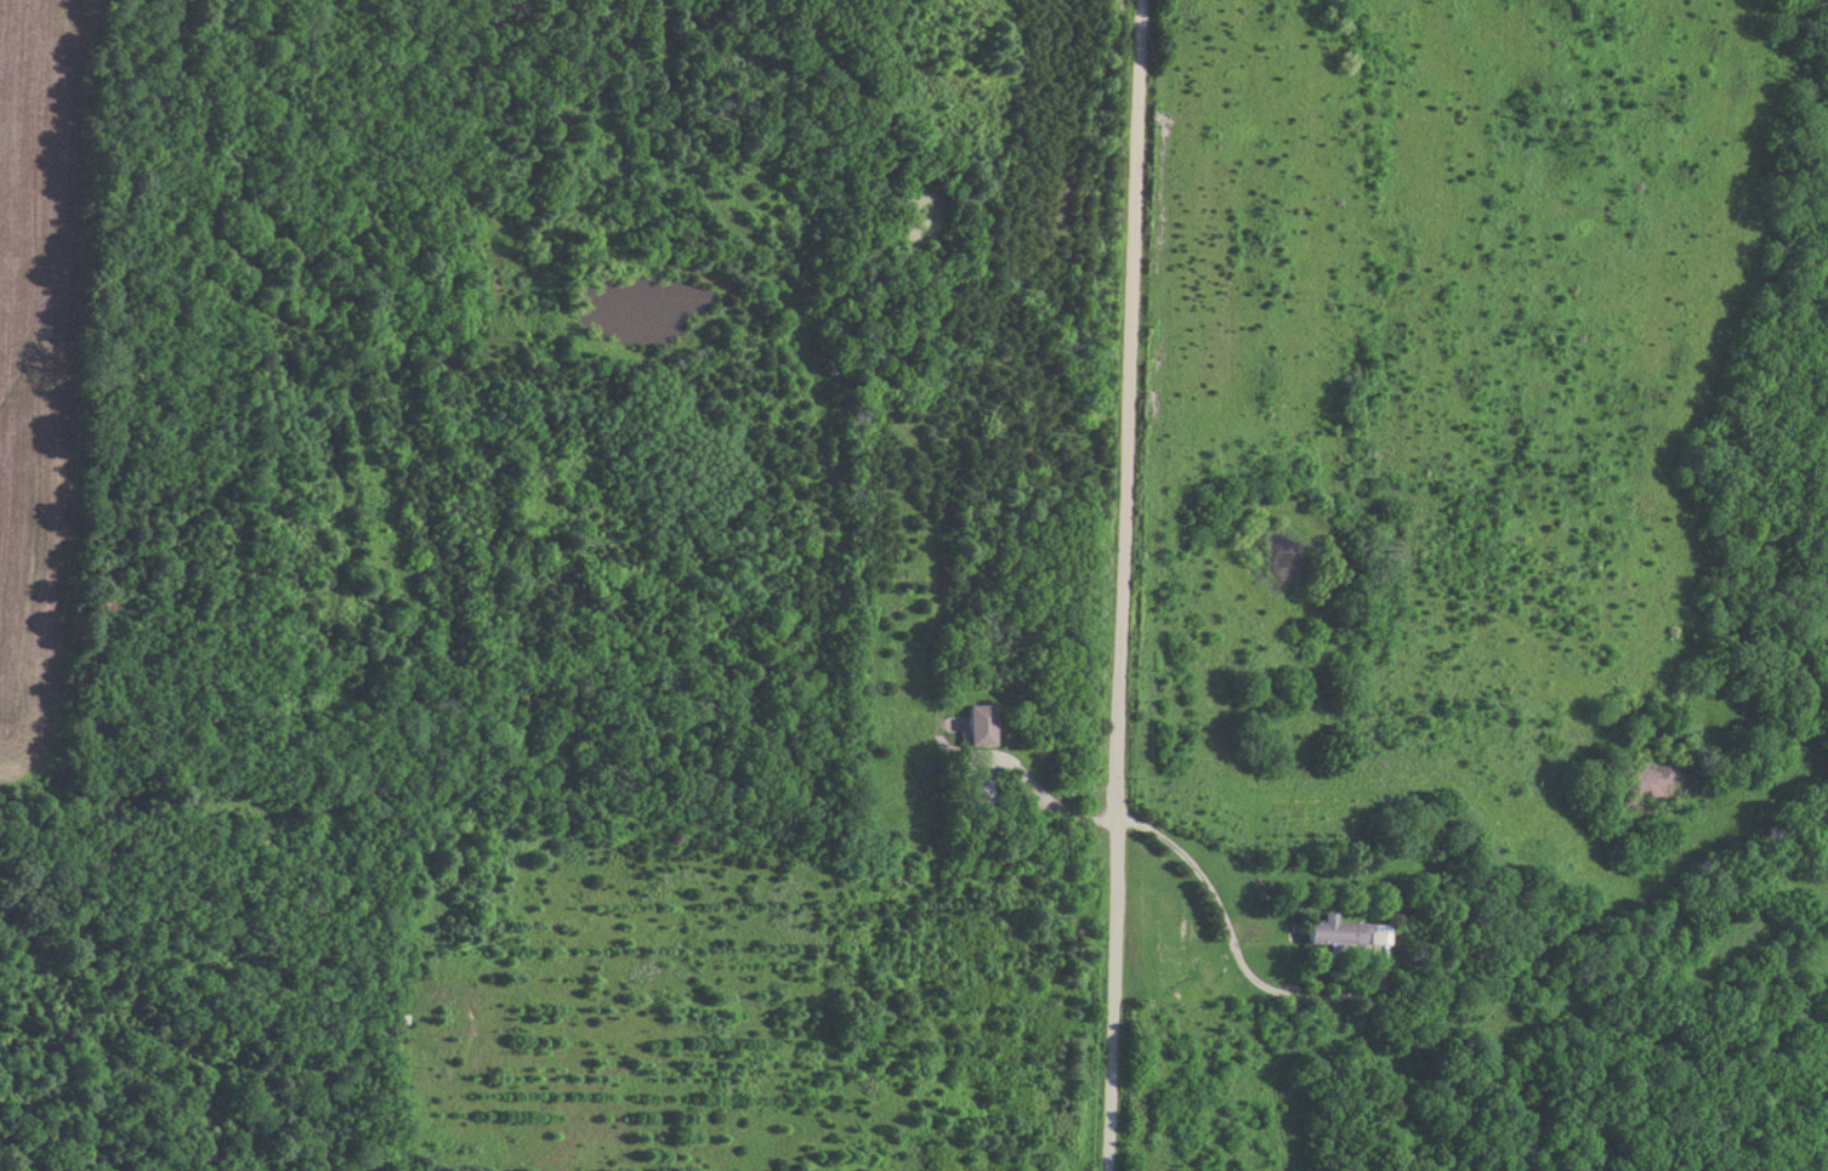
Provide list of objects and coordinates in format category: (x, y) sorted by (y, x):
road: (1124, 585)
building: (973, 724)
building: (973, 790)
road: (1049, 807)
road: (1221, 920)
building: (1341, 933)

